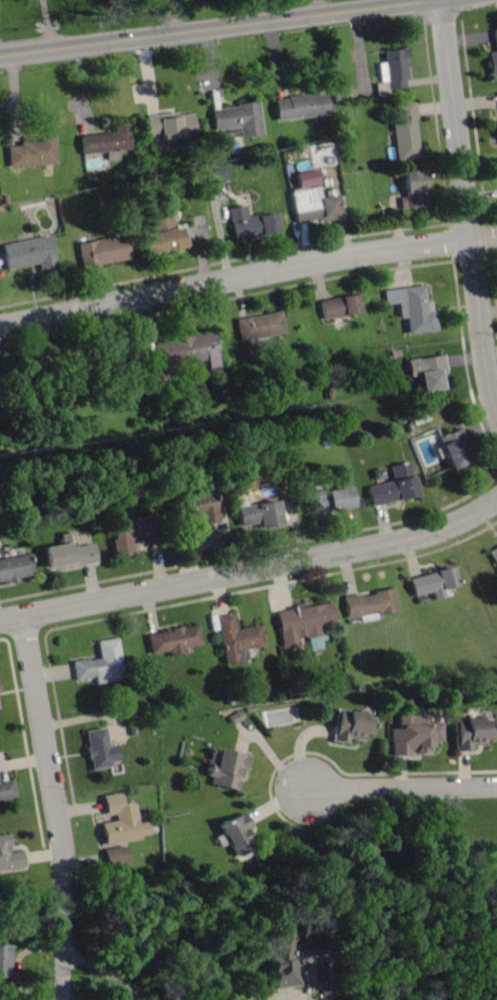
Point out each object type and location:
road: (196, 25)
building: (492, 54)
building: (391, 66)
building: (297, 106)
building: (236, 119)
building: (168, 125)
building: (495, 129)
building: (404, 130)
building: (106, 141)
building: (30, 152)
building: (210, 171)
building: (411, 188)
building: (310, 200)
road: (463, 209)
building: (248, 222)
building: (100, 251)
building: (27, 253)
road: (247, 270)
building: (337, 306)
building: (412, 307)
building: (260, 327)
building: (186, 350)
building: (426, 371)
building: (453, 452)
building: (391, 486)
building: (327, 500)
building: (198, 513)
building: (255, 515)
building: (126, 533)
building: (66, 553)
building: (493, 556)
building: (12, 567)
road: (250, 567)
building: (431, 583)
building: (368, 605)
building: (302, 622)
building: (235, 639)
building: (171, 640)
building: (99, 664)
building: (348, 726)
building: (471, 733)
building: (412, 735)
building: (97, 749)
building: (223, 768)
road: (401, 788)
building: (5, 790)
road: (54, 804)
building: (119, 821)
building: (232, 834)
building: (8, 856)
building: (113, 856)
building: (280, 961)

